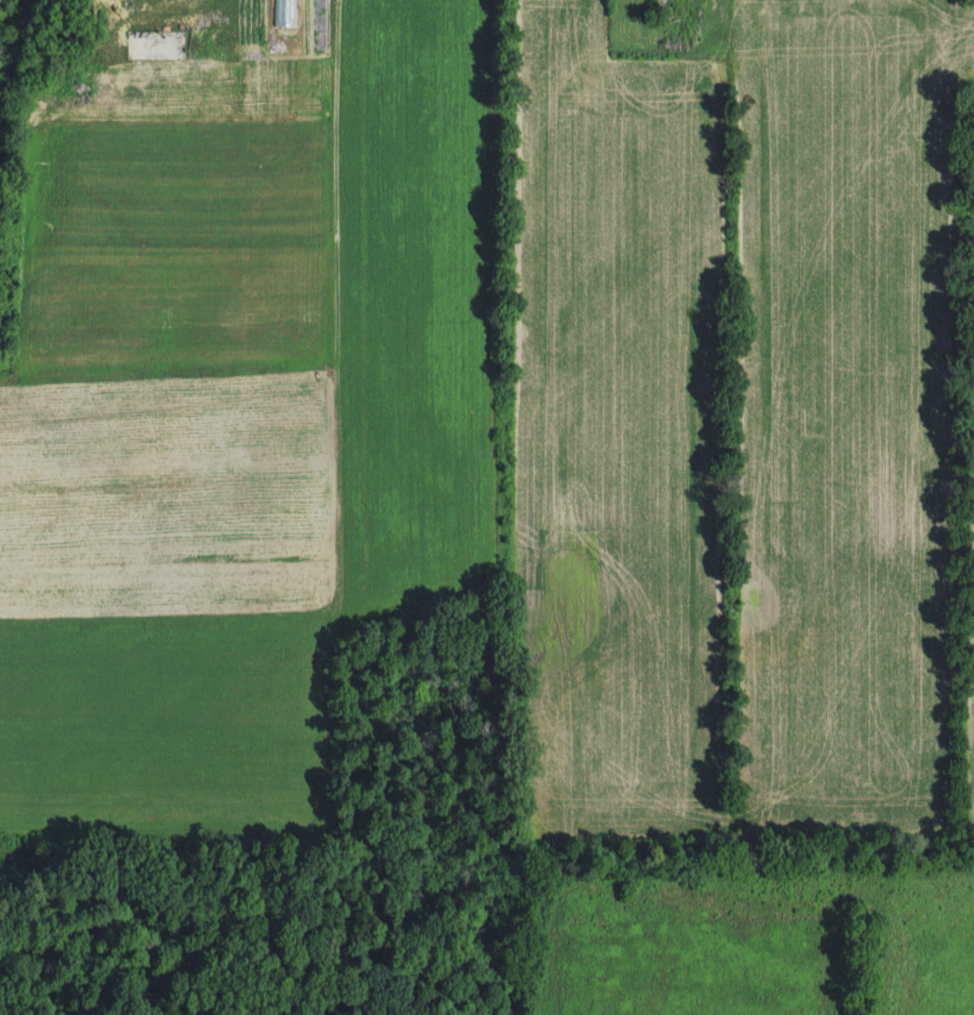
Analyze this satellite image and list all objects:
building: (676, 8)

